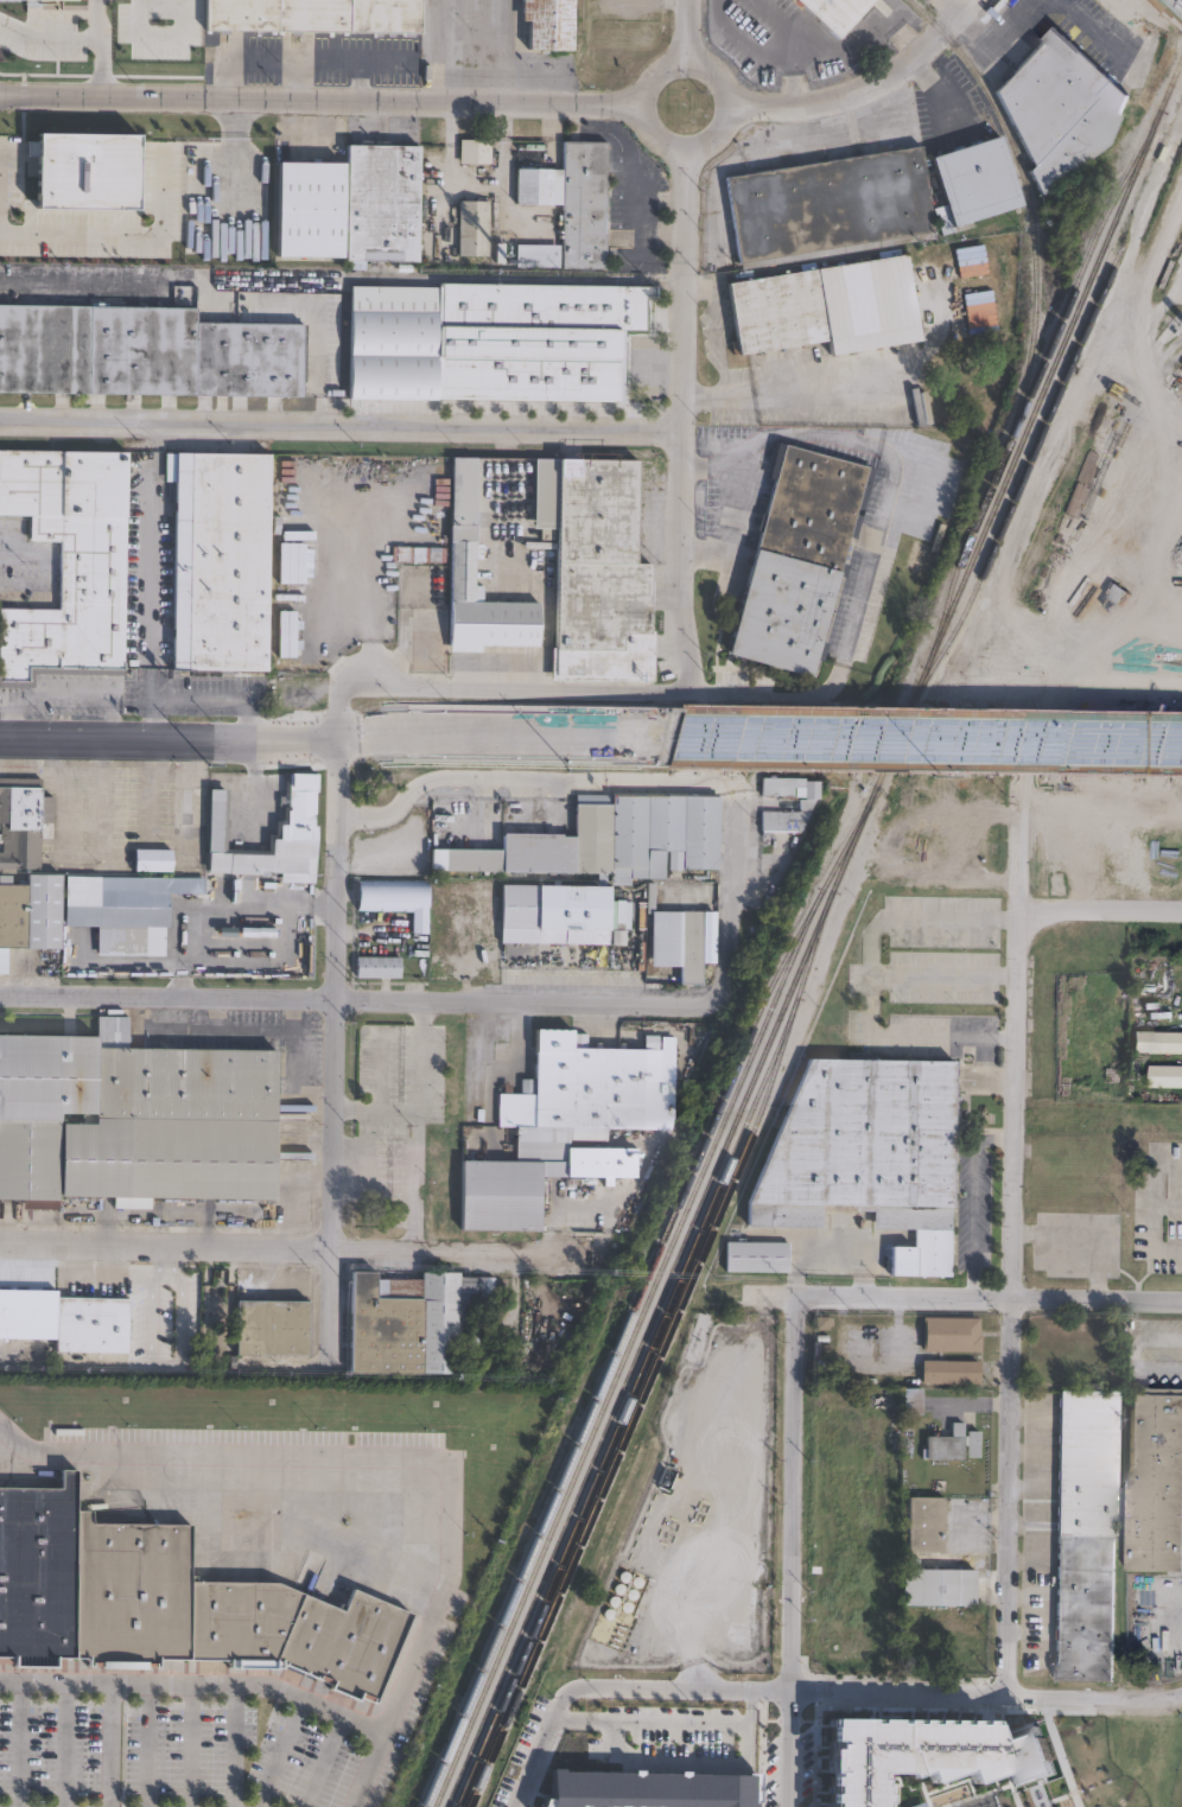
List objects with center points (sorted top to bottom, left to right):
road: (1012, 0)
building: (833, 12)
building: (316, 15)
road: (95, 20)
building: (544, 23)
road: (1091, 27)
road: (987, 28)
road: (685, 31)
road: (158, 33)
road: (72, 39)
road: (758, 47)
building: (481, 52)
building: (549, 61)
road: (667, 64)
road: (866, 90)
road: (933, 90)
road: (319, 95)
building: (1049, 116)
building: (476, 152)
building: (88, 170)
building: (974, 182)
building: (383, 203)
building: (261, 205)
building: (561, 205)
building: (828, 205)
building: (311, 209)
building: (475, 228)
road: (122, 234)
building: (970, 260)
road: (517, 276)
road: (102, 281)
road: (703, 288)
building: (824, 307)
road: (320, 333)
road: (716, 335)
building: (488, 350)
building: (147, 352)
railway: (1031, 382)
road: (708, 388)
road: (681, 420)
road: (339, 425)
building: (458, 488)
road: (732, 528)
building: (66, 558)
building: (222, 562)
building: (795, 562)
building: (595, 572)
road: (146, 580)
road: (355, 590)
building: (484, 605)
road: (214, 698)
road: (792, 699)
road: (459, 736)
road: (121, 738)
road: (929, 740)
road: (529, 777)
building: (776, 795)
building: (807, 802)
building: (23, 821)
building: (769, 828)
building: (608, 839)
building: (293, 842)
building: (154, 860)
road: (732, 883)
building: (396, 899)
building: (121, 906)
road: (216, 909)
road: (1101, 911)
building: (552, 914)
building: (31, 916)
building: (617, 922)
railway: (814, 934)
building: (675, 942)
building: (437, 952)
building: (380, 967)
road: (945, 975)
road: (869, 979)
road: (364, 1000)
road: (252, 1032)
building: (1158, 1042)
road: (335, 1054)
road: (498, 1065)
road: (303, 1075)
building: (1168, 1076)
road: (999, 1077)
building: (597, 1083)
building: (129, 1116)
road: (414, 1121)
building: (866, 1152)
building: (1102, 1158)
building: (527, 1179)
road: (972, 1196)
road: (314, 1239)
building: (756, 1256)
railway: (641, 1292)
road: (154, 1294)
building: (140, 1296)
road: (979, 1297)
road: (1015, 1306)
building: (407, 1316)
building: (63, 1318)
building: (268, 1323)
building: (178, 1330)
building: (952, 1335)
building: (230, 1361)
building: (952, 1372)
building: (914, 1401)
building: (949, 1444)
building: (1156, 1480)
building: (927, 1523)
building: (1088, 1535)
road: (793, 1551)
road: (451, 1567)
building: (940, 1586)
building: (163, 1597)
road: (879, 1693)
road: (746, 1709)
road: (743, 1737)
road: (544, 1742)
road: (17, 1744)
road: (62, 1744)
road: (107, 1744)
road: (145, 1744)
road: (188, 1744)
road: (231, 1745)
road: (278, 1752)
building: (932, 1754)
road: (320, 1761)
road: (366, 1769)
building: (1136, 1770)
building: (647, 1787)

